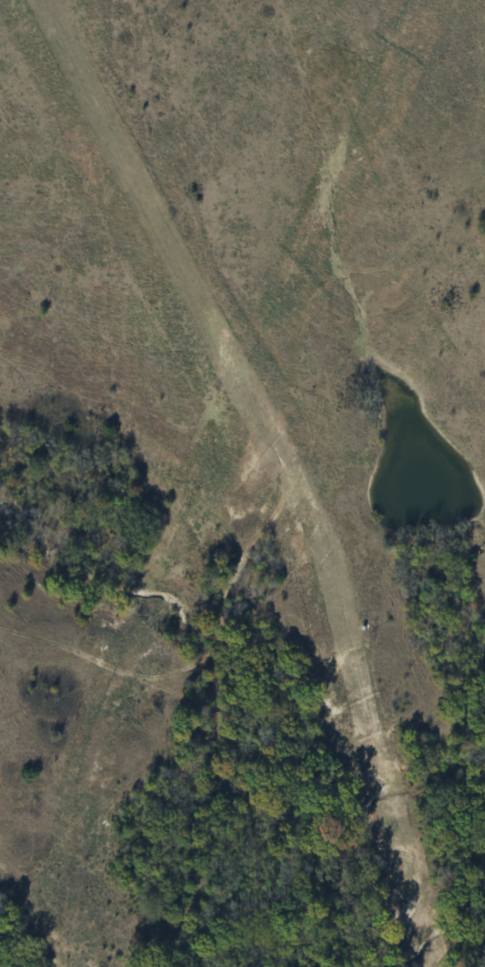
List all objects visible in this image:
road: (271, 473)

